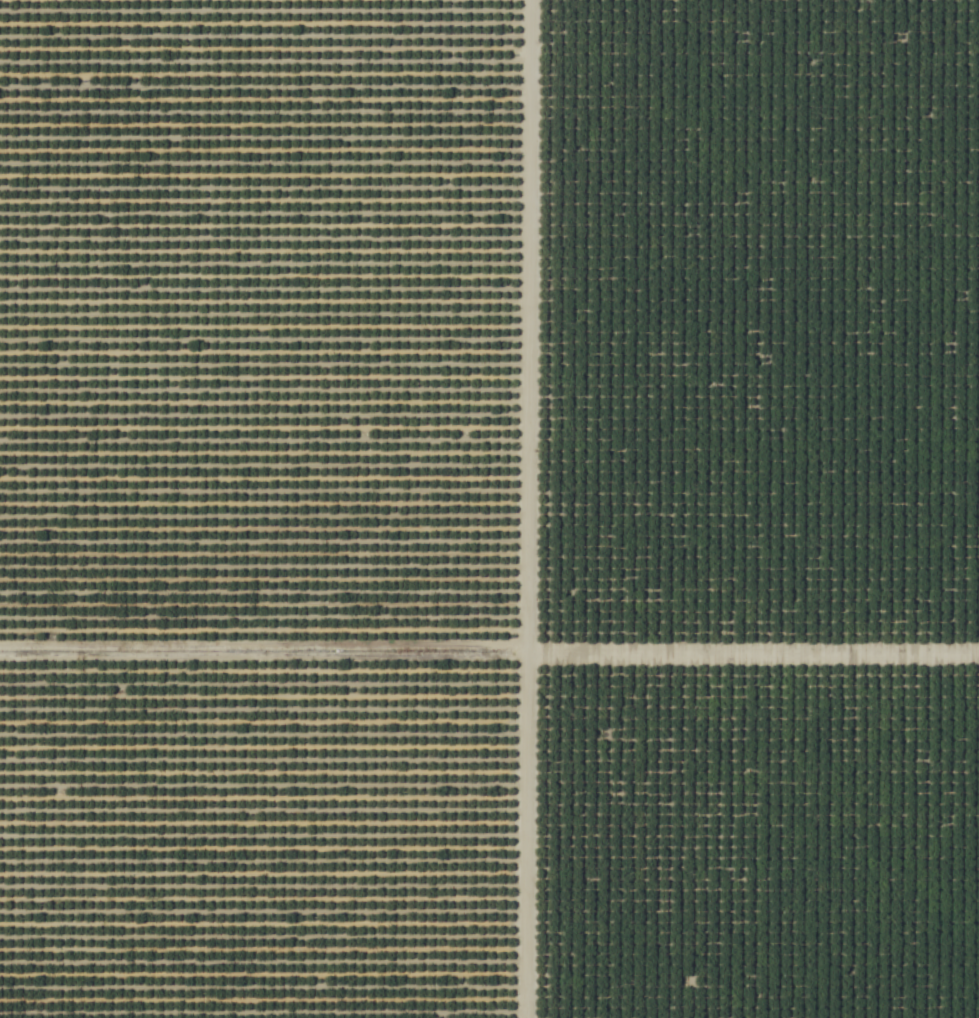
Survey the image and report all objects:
road: (519, 508)
road: (489, 650)

